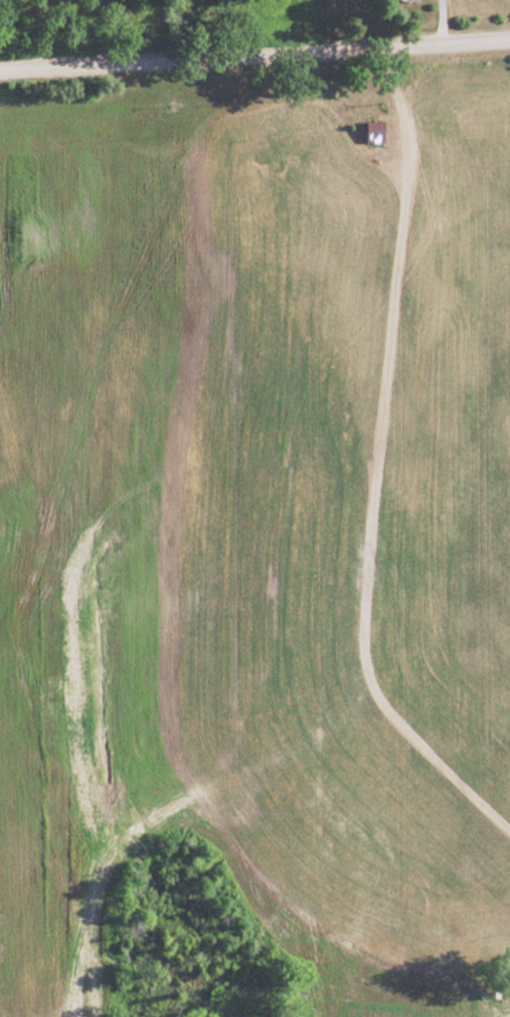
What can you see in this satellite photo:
building: (407, 1)
road: (255, 49)
building: (372, 131)

